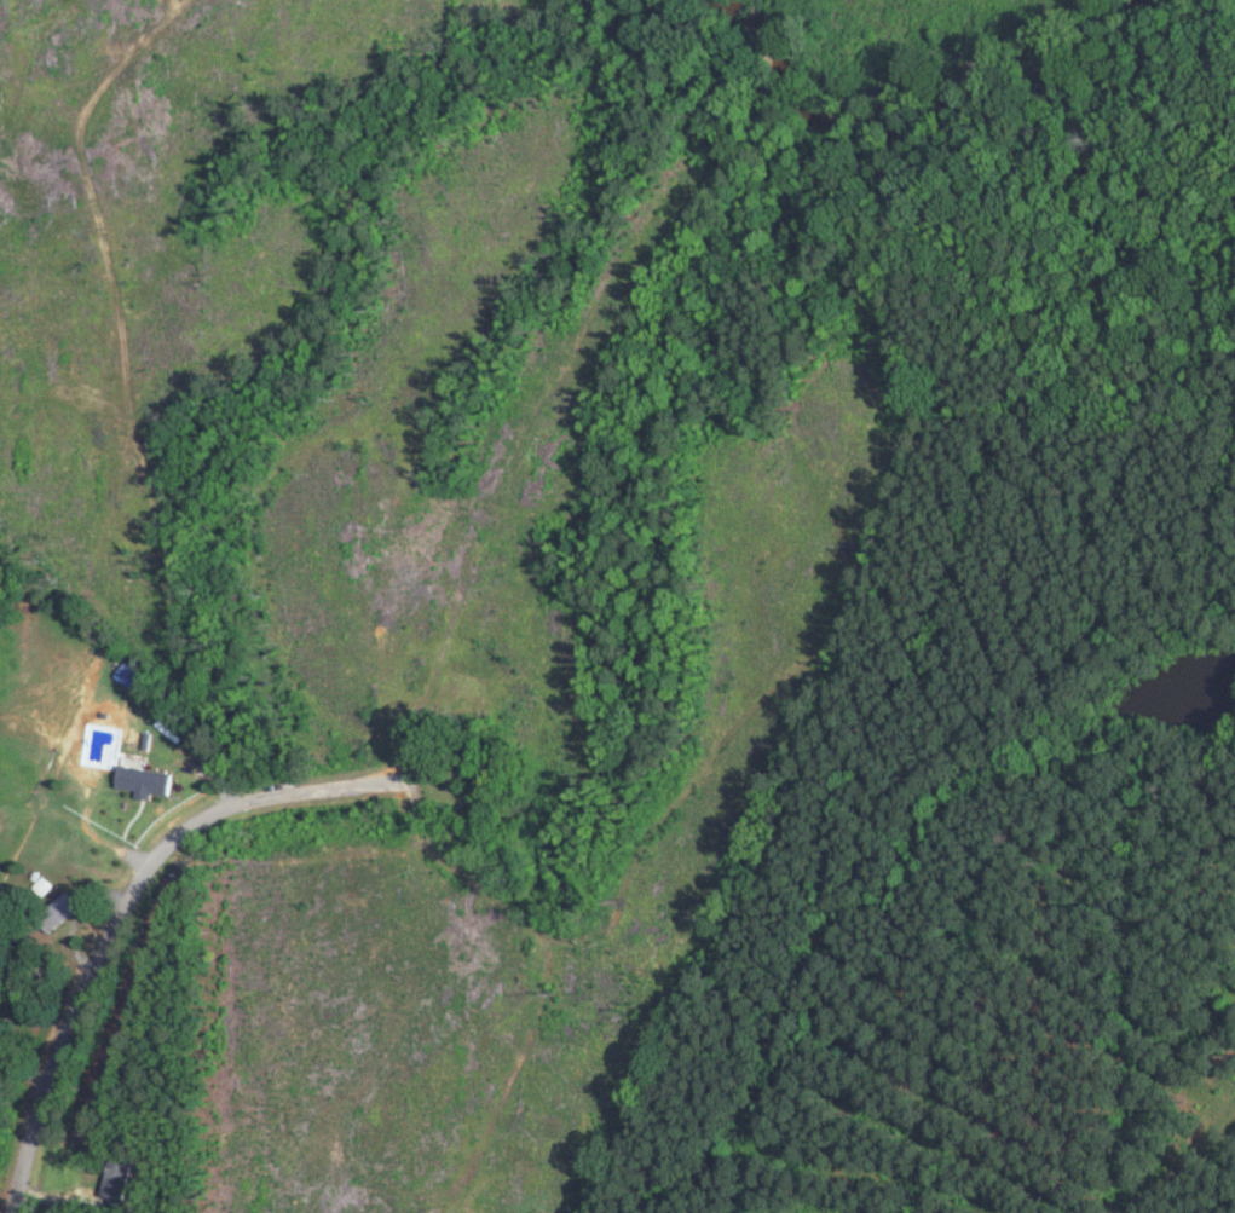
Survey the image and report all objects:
building: (98, 732)
building: (146, 779)
building: (64, 906)
road: (179, 925)
building: (120, 1174)

